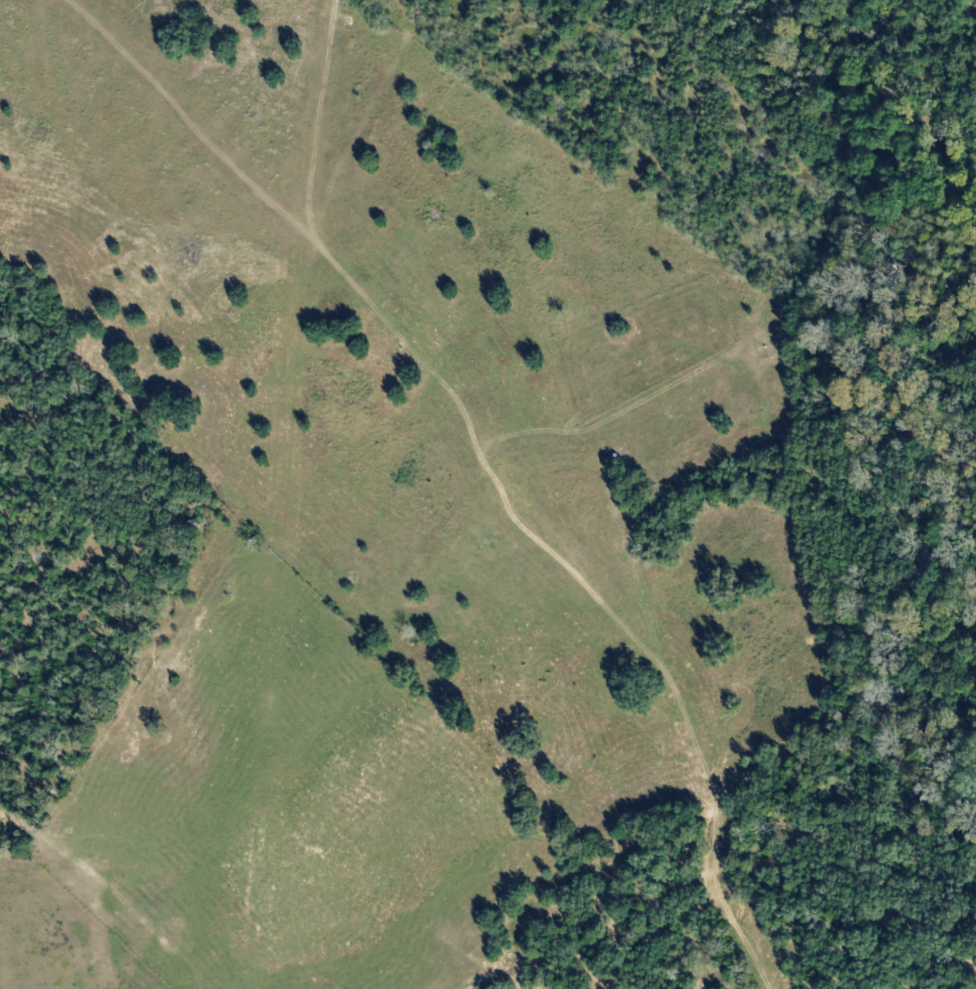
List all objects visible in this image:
road: (480, 457)

